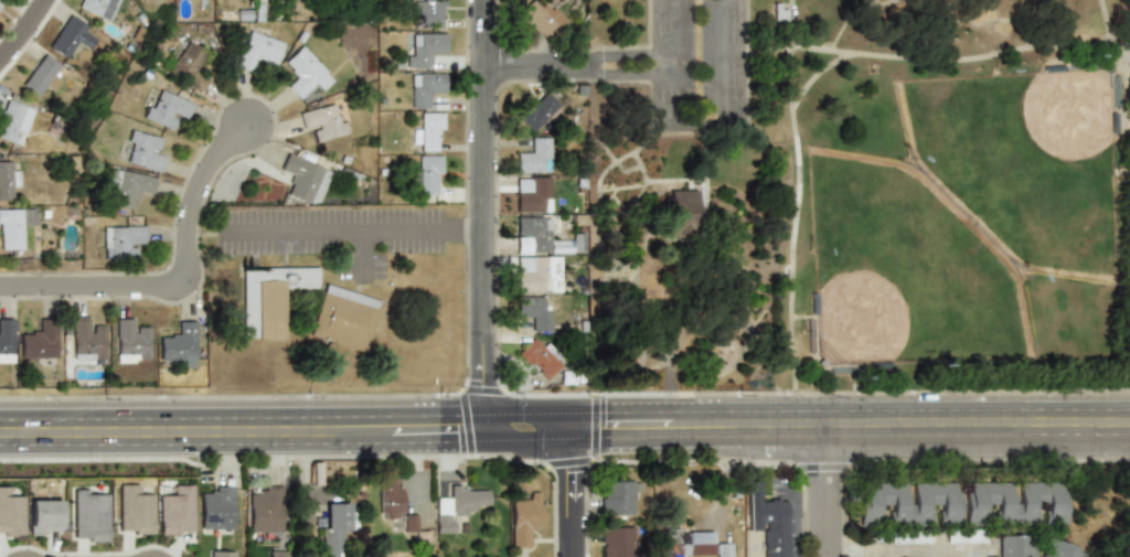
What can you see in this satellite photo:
building: (0, 1)
building: (98, 8)
building: (427, 13)
building: (777, 13)
road: (852, 17)
building: (536, 18)
road: (668, 28)
building: (71, 36)
road: (31, 41)
building: (257, 50)
building: (423, 50)
road: (1123, 52)
road: (626, 55)
road: (956, 57)
road: (669, 64)
road: (533, 65)
parking lot: (695, 65)
building: (189, 66)
building: (300, 71)
road: (626, 73)
road: (812, 75)
building: (41, 76)
building: (423, 89)
building: (167, 108)
road: (722, 108)
building: (535, 110)
building: (14, 119)
building: (322, 120)
building: (430, 131)
building: (143, 151)
building: (532, 154)
park: (1022, 162)
building: (427, 175)
building: (8, 178)
building: (303, 179)
road: (703, 185)
building: (127, 186)
road: (673, 186)
road: (641, 193)
building: (533, 195)
park: (857, 195)
building: (678, 203)
road: (798, 203)
road: (479, 206)
building: (15, 226)
road: (339, 228)
road: (470, 228)
building: (540, 236)
building: (121, 240)
road: (638, 248)
road: (356, 251)
road: (740, 267)
park: (903, 268)
building: (537, 275)
road: (626, 278)
road: (662, 283)
road: (193, 291)
building: (269, 298)
building: (532, 312)
building: (342, 318)
road: (684, 323)
building: (6, 339)
building: (39, 339)
building: (87, 339)
building: (131, 342)
building: (179, 344)
building: (537, 358)
road: (724, 375)
road: (564, 413)
road: (568, 425)
road: (480, 427)
road: (564, 438)
building: (387, 496)
road: (568, 496)
building: (619, 497)
road: (823, 499)
building: (1015, 501)
building: (909, 502)
building: (458, 504)
building: (216, 507)
building: (132, 510)
building: (263, 510)
building: (174, 511)
building: (10, 513)
building: (88, 515)
building: (42, 516)
building: (524, 518)
building: (766, 521)
building: (332, 527)
building: (617, 542)
building: (707, 544)
building: (670, 545)
road: (906, 546)
building: (1015, 546)
building: (1060, 549)
building: (221, 553)
building: (275, 554)

